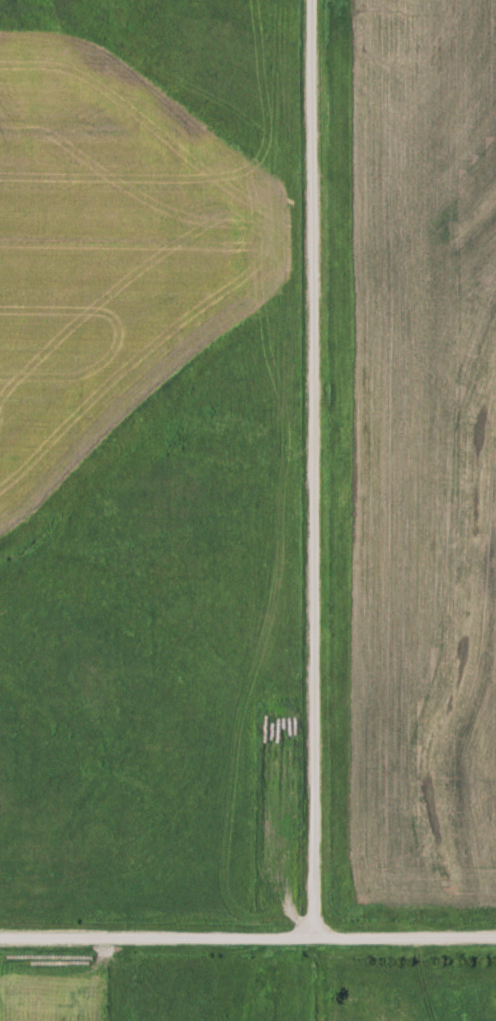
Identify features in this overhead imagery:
road: (316, 469)
road: (248, 938)

